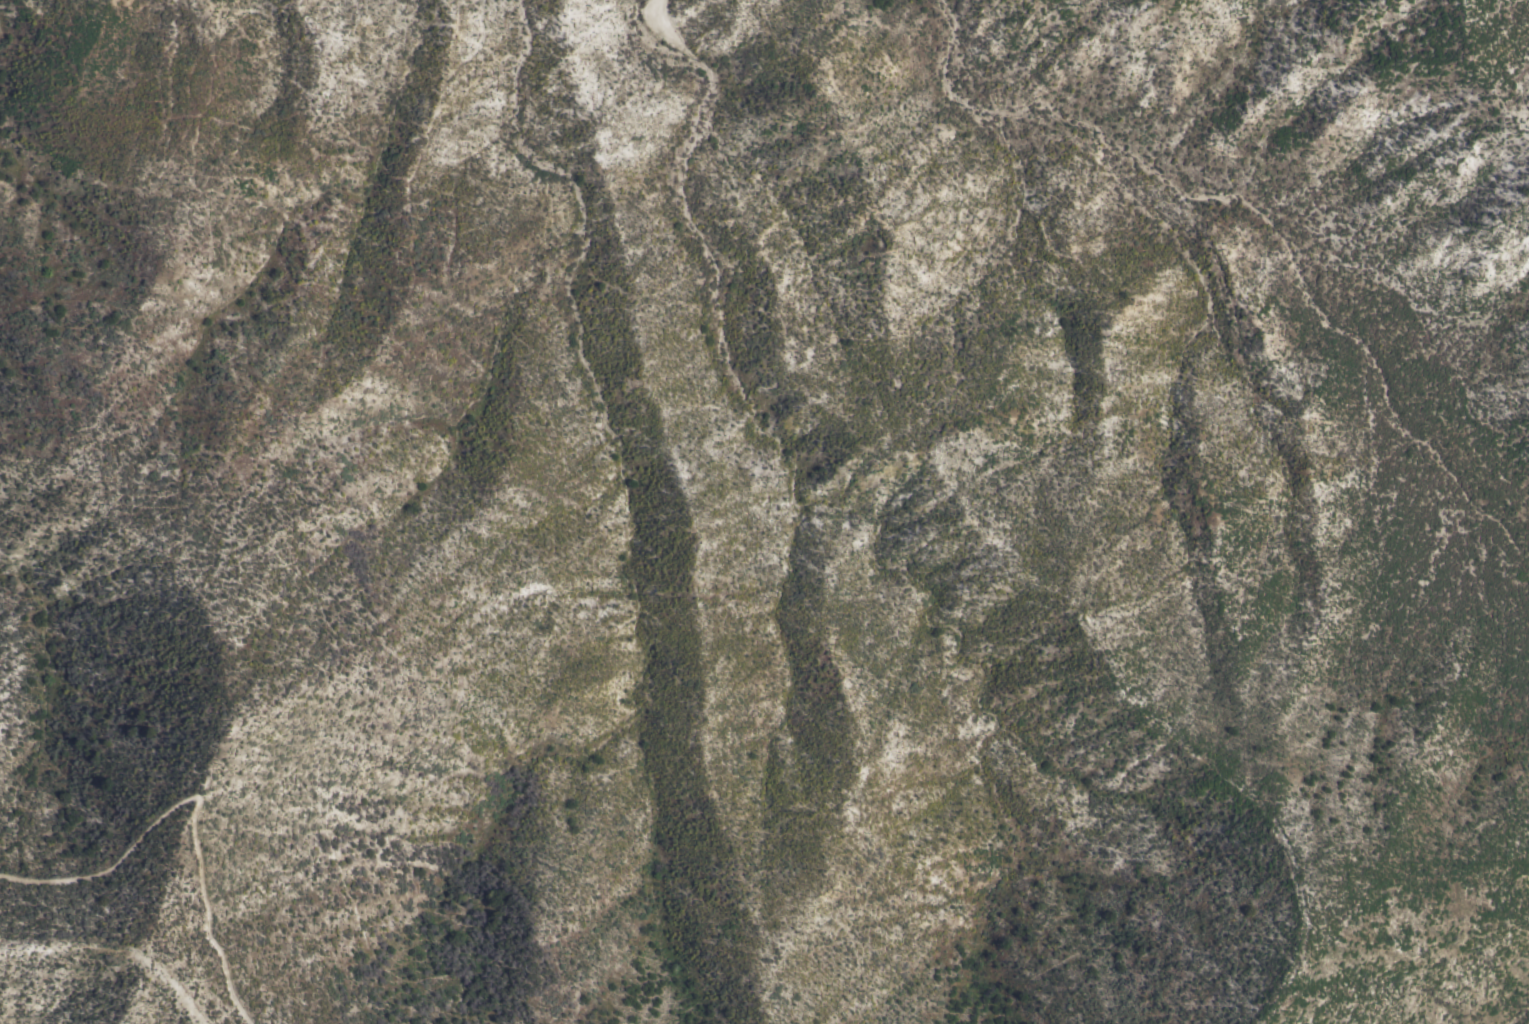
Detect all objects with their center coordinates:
road: (195, 803)

